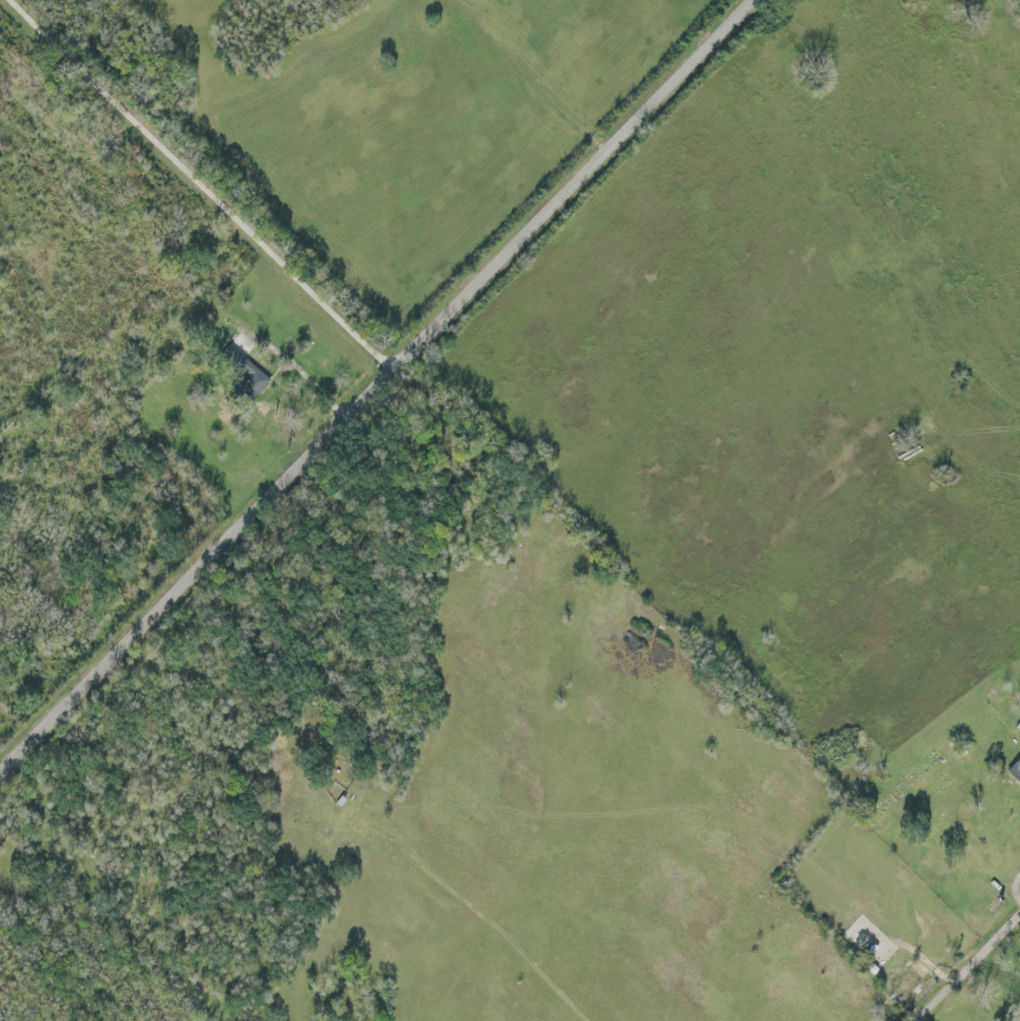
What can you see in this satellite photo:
road: (207, 185)
building: (247, 371)
road: (380, 392)
building: (1012, 764)
park: (914, 810)
road: (968, 967)
building: (906, 983)

